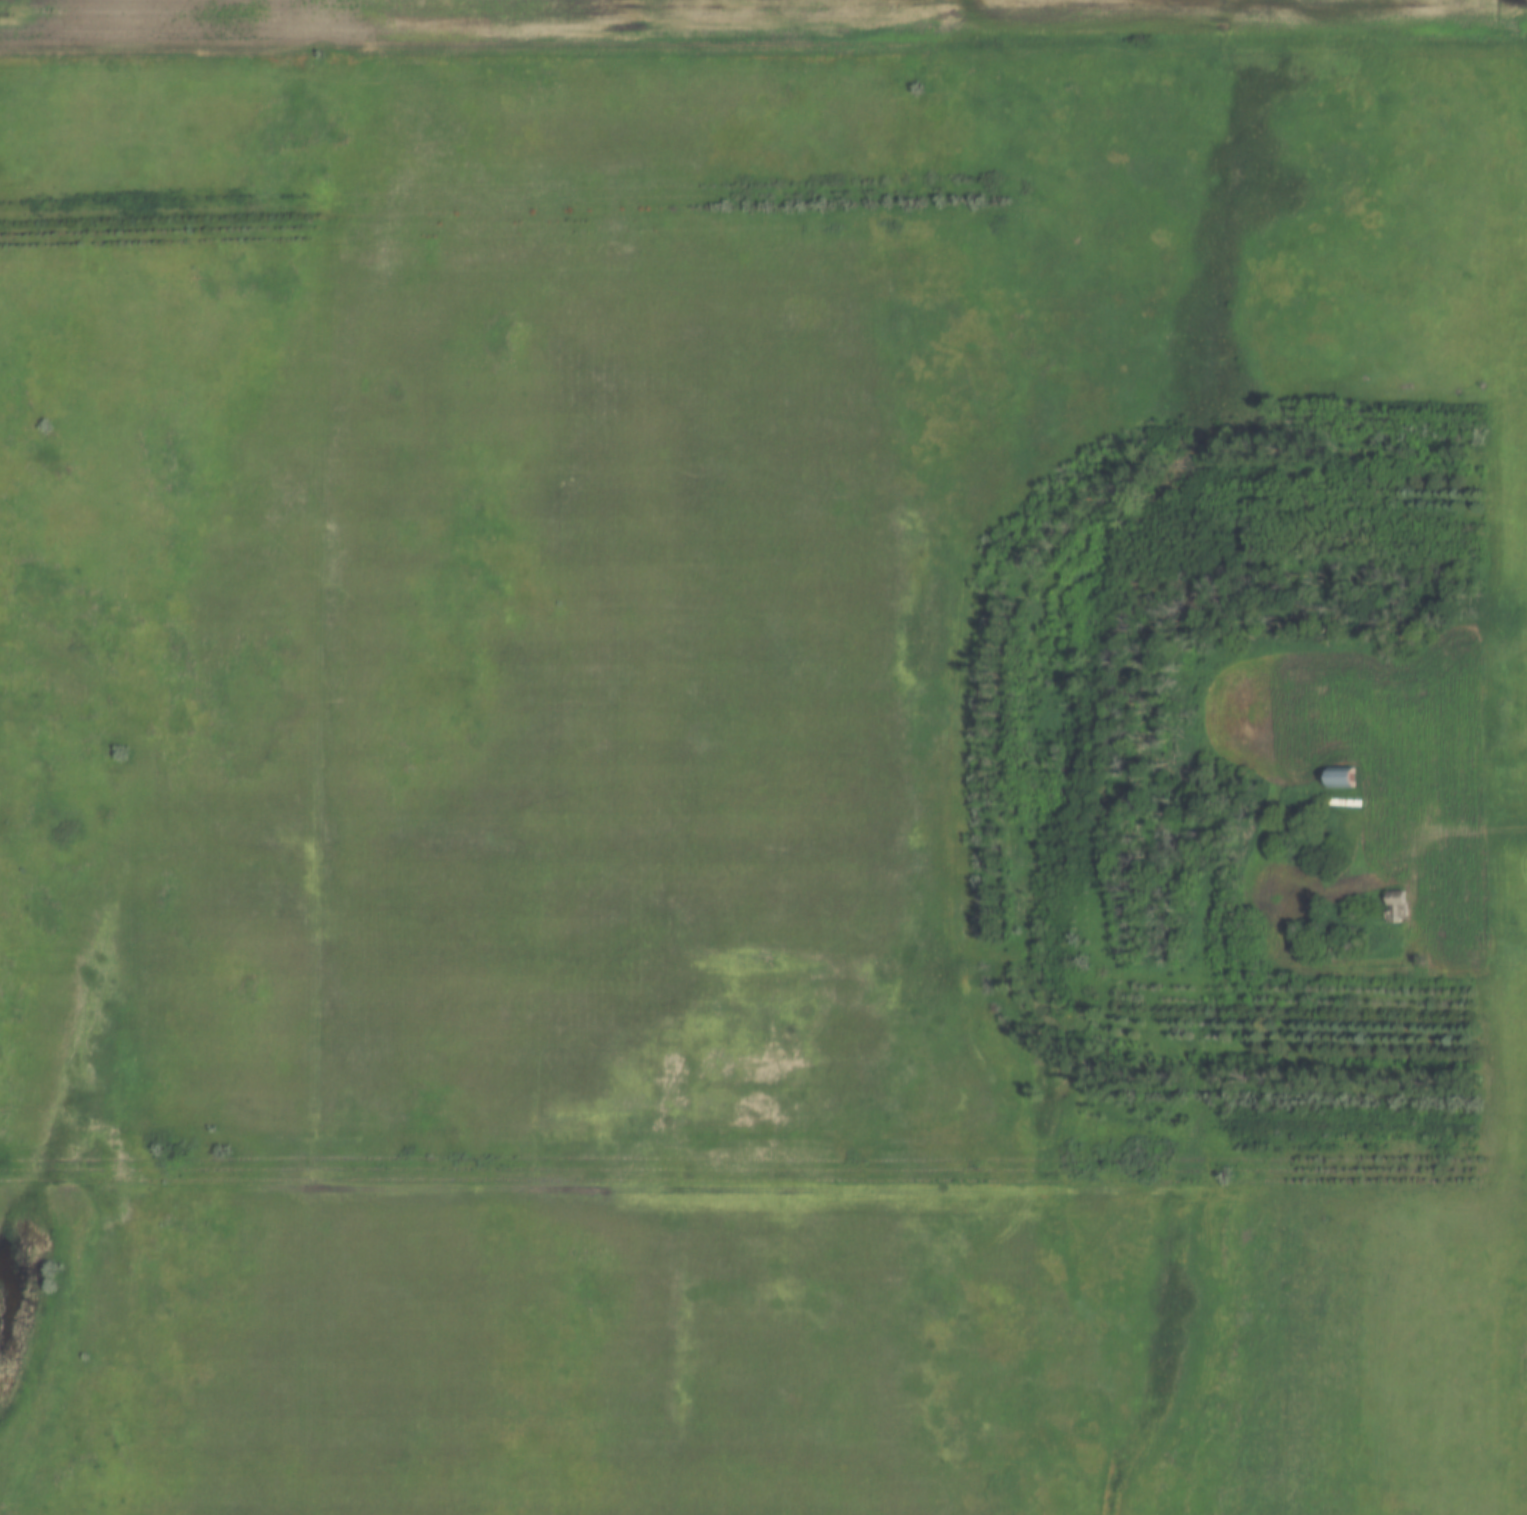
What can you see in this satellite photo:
building: (1345, 776)
building: (1396, 906)

